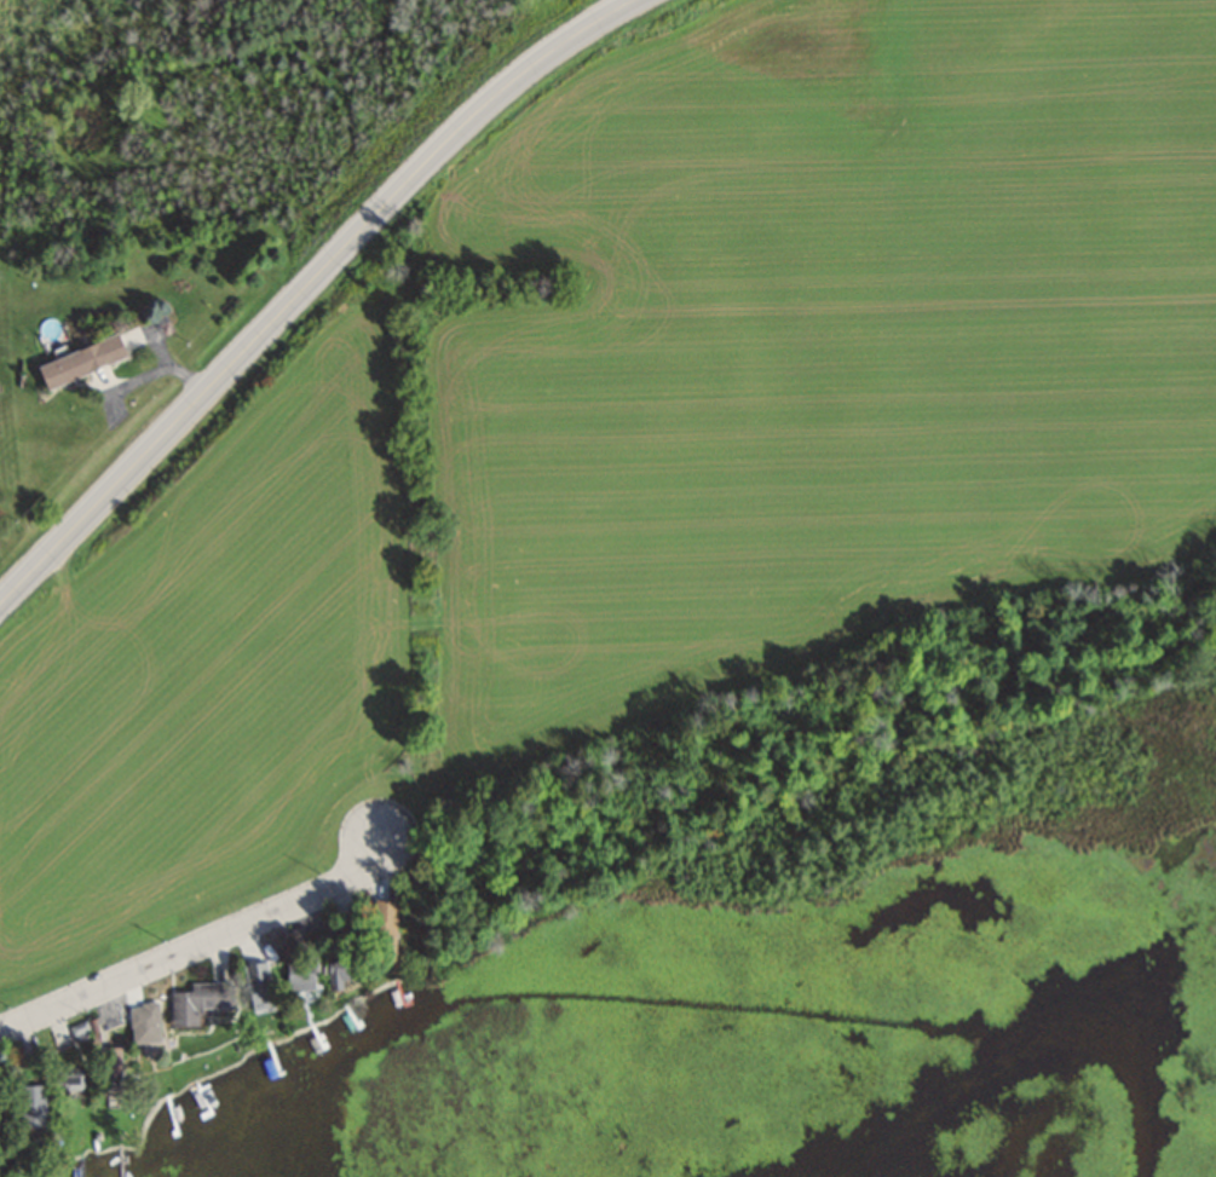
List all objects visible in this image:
road: (302, 289)
building: (88, 356)
building: (378, 931)
road: (201, 940)
building: (339, 970)
building: (296, 974)
building: (253, 986)
building: (191, 1003)
building: (138, 1023)
building: (108, 1048)
building: (27, 1106)
building: (0, 1118)

